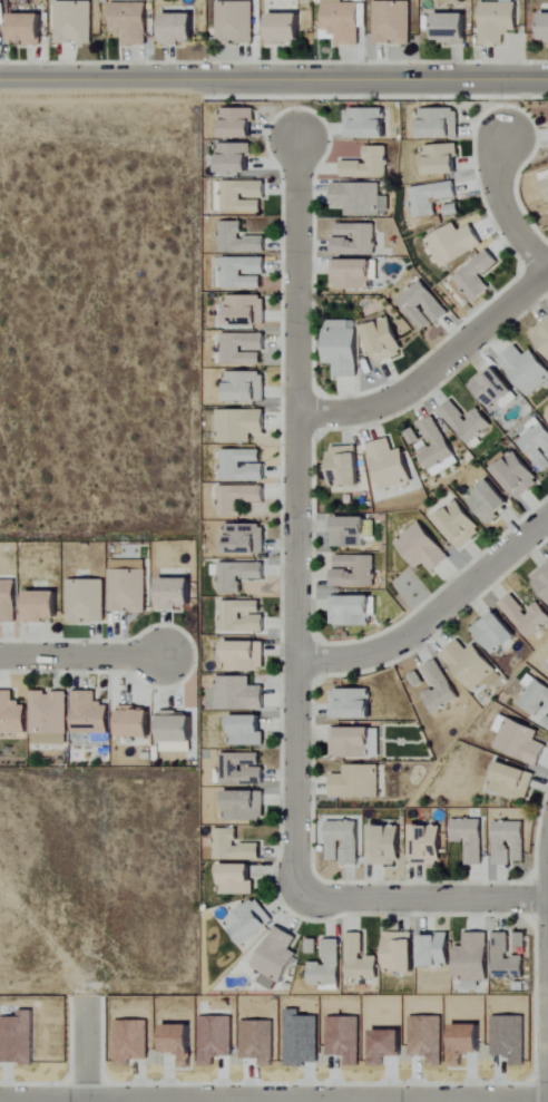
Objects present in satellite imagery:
building: (343, 21)
building: (74, 22)
building: (130, 22)
building: (235, 22)
building: (498, 22)
building: (392, 23)
building: (285, 29)
building: (452, 29)
building: (545, 29)
building: (28, 30)
building: (178, 30)
road: (274, 79)
building: (238, 121)
building: (366, 123)
building: (439, 123)
building: (235, 157)
building: (442, 159)
building: (368, 165)
building: (546, 186)
building: (243, 196)
building: (430, 197)
building: (360, 198)
road: (502, 211)
building: (355, 238)
building: (238, 240)
building: (453, 243)
building: (242, 272)
building: (352, 273)
building: (474, 277)
building: (423, 305)
building: (246, 310)
building: (542, 334)
building: (385, 340)
building: (343, 348)
building: (243, 349)
building: (527, 369)
road: (433, 371)
building: (246, 387)
building: (495, 388)
building: (547, 415)
building: (467, 422)
building: (239, 425)
building: (537, 442)
building: (433, 447)
building: (242, 465)
building: (390, 465)
building: (344, 466)
building: (516, 472)
building: (238, 498)
building: (490, 501)
road: (295, 508)
building: (460, 524)
building: (351, 532)
building: (245, 538)
building: (423, 548)
building: (354, 570)
building: (236, 575)
building: (542, 581)
building: (128, 591)
building: (176, 593)
building: (7, 601)
building: (87, 601)
building: (43, 606)
building: (352, 611)
road: (433, 615)
building: (242, 616)
building: (526, 616)
building: (496, 633)
road: (81, 656)
building: (245, 656)
building: (471, 665)
building: (439, 687)
building: (238, 693)
building: (535, 696)
building: (352, 704)
building: (12, 714)
building: (90, 714)
building: (49, 718)
building: (136, 722)
building: (247, 730)
building: (176, 732)
building: (519, 740)
building: (351, 742)
building: (242, 769)
building: (512, 781)
building: (358, 782)
building: (244, 806)
building: (471, 839)
building: (343, 842)
building: (510, 842)
building: (386, 846)
building: (428, 846)
building: (234, 847)
building: (237, 880)
road: (417, 901)
building: (249, 921)
building: (520, 940)
building: (437, 950)
building: (401, 952)
building: (275, 958)
building: (360, 959)
building: (473, 959)
building: (506, 959)
building: (327, 965)
building: (177, 1040)
road: (86, 1052)
road: (273, 1100)

